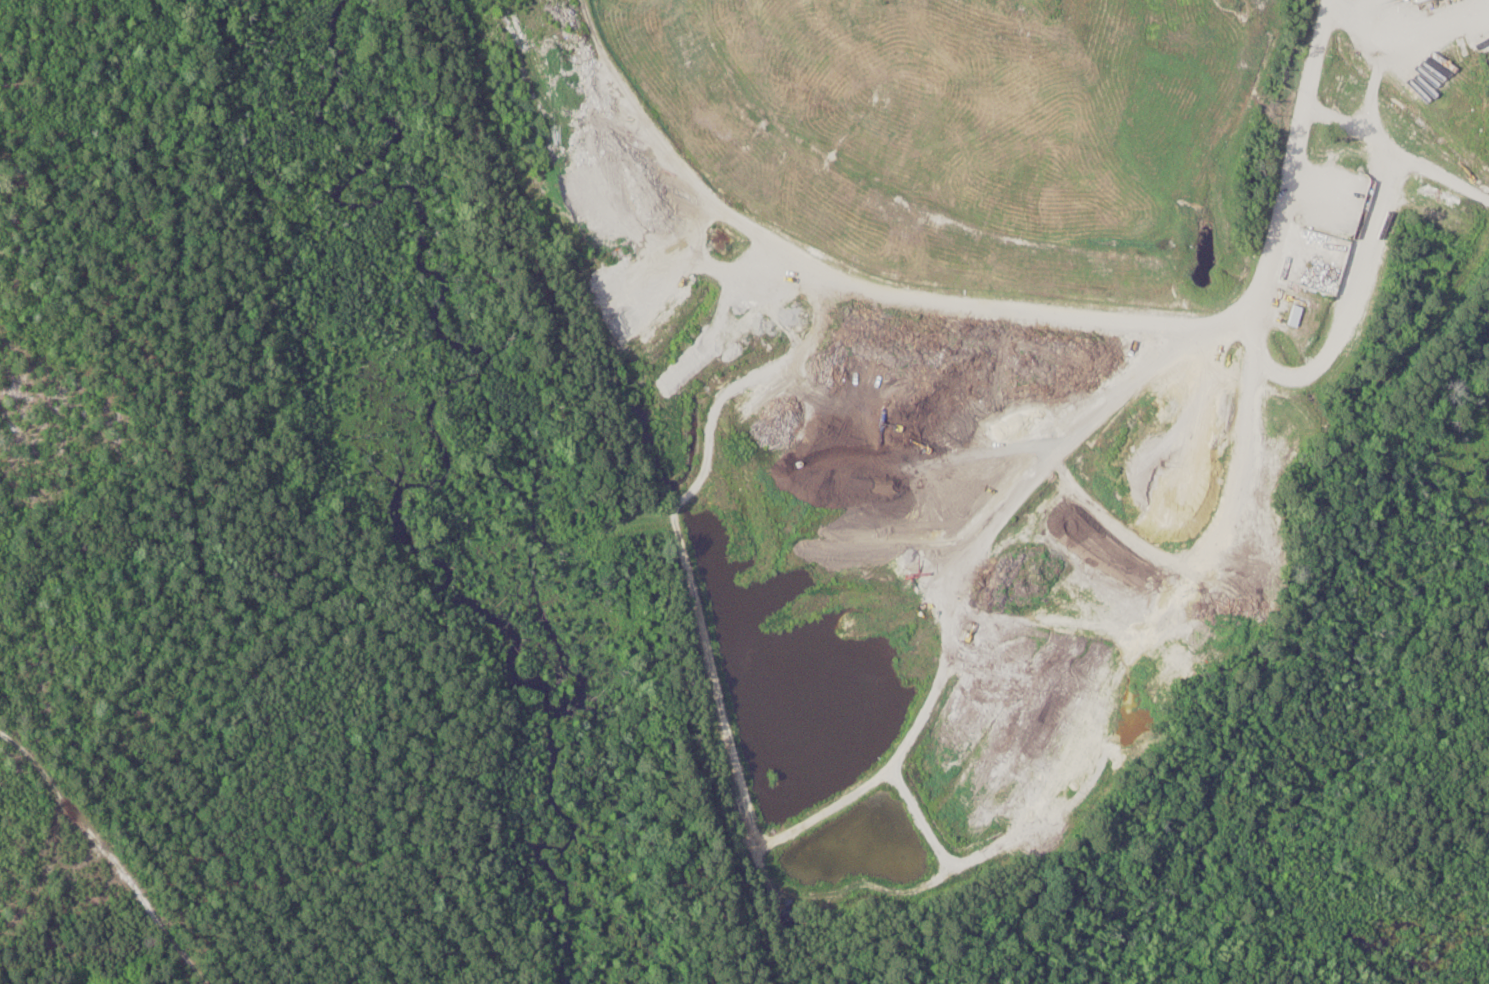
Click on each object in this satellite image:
building: (1405, 1)
building: (1292, 316)

